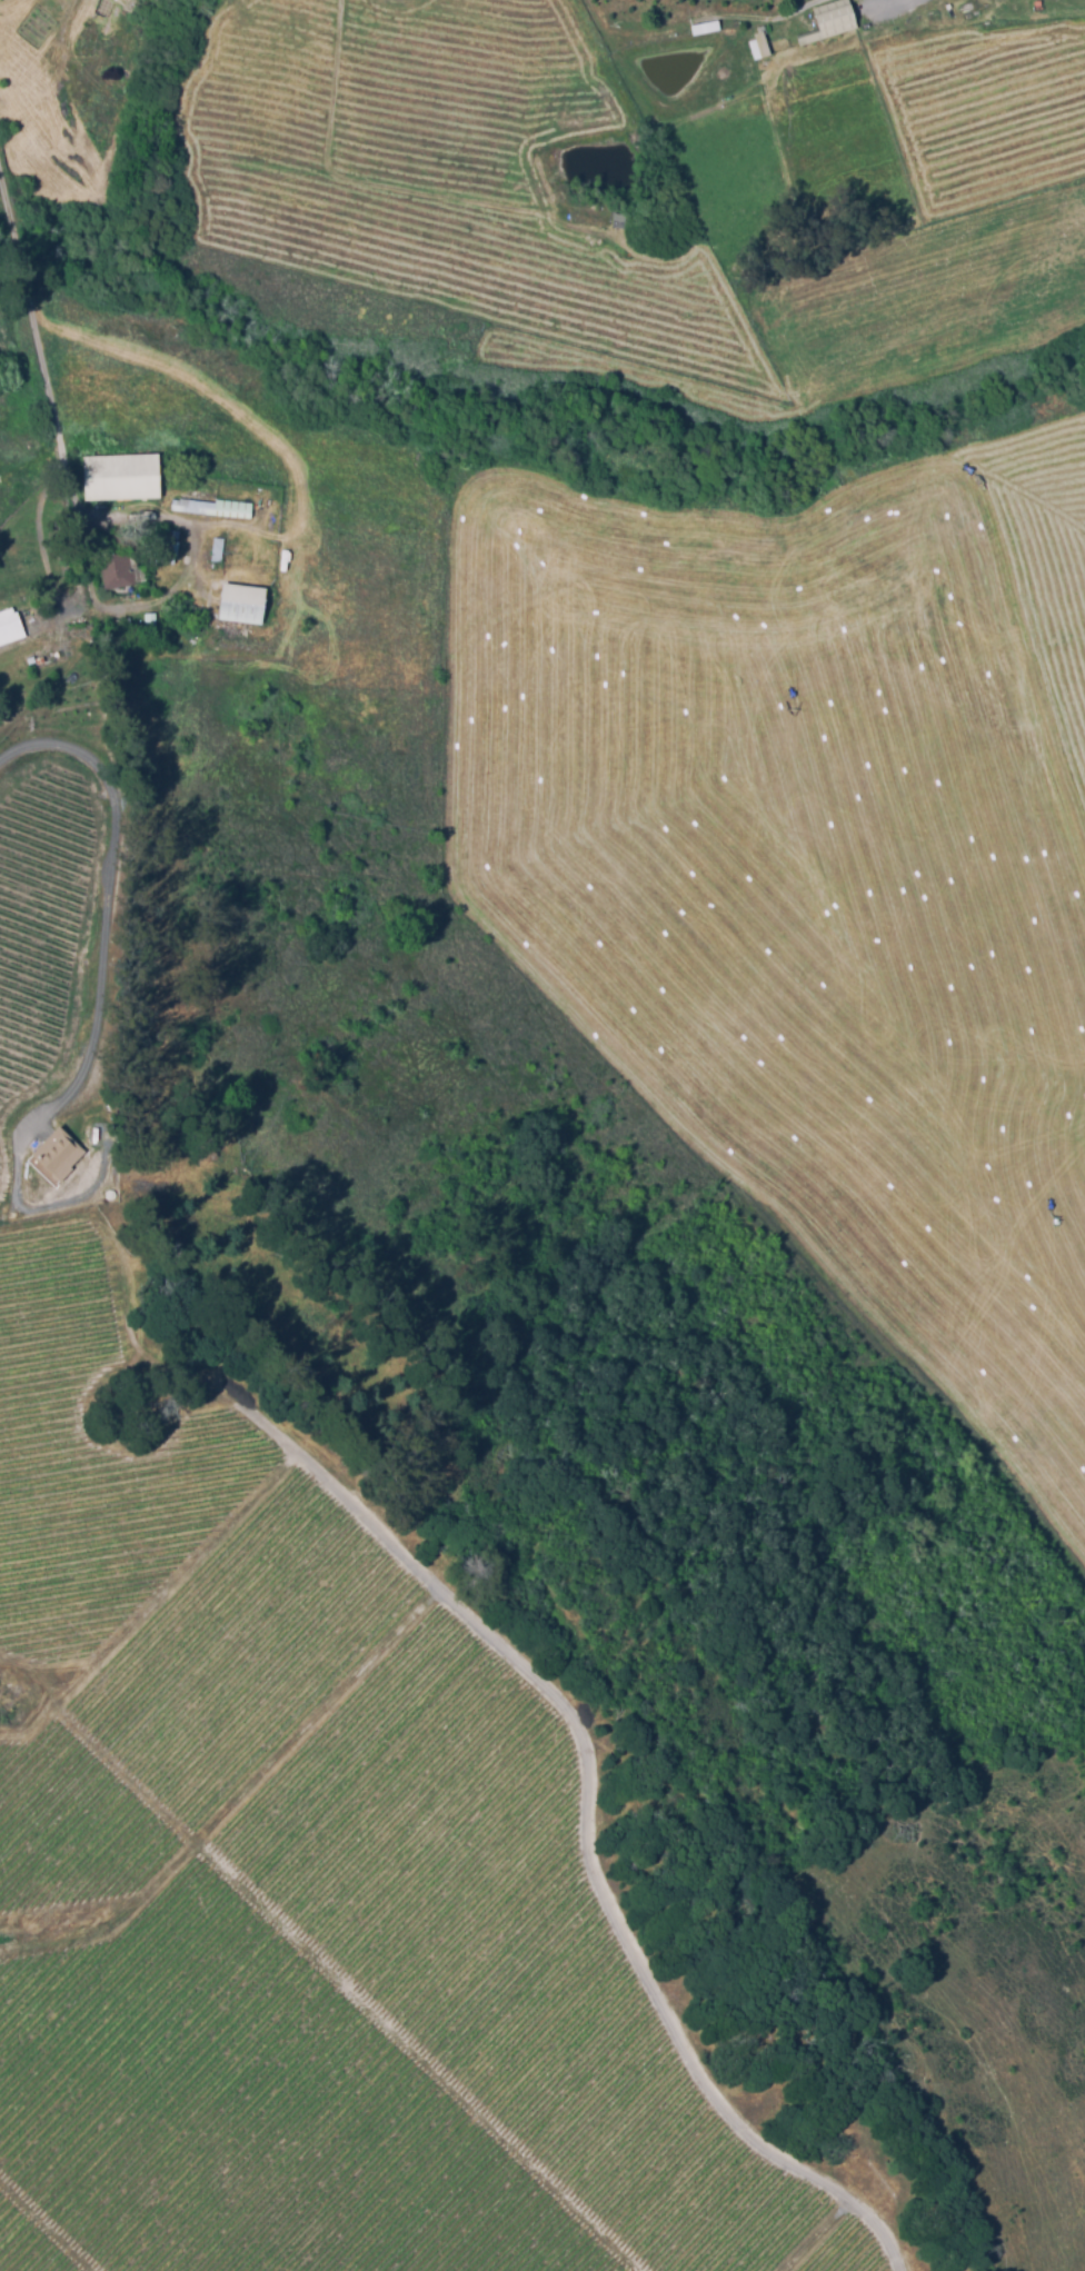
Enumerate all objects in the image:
road: (72, 16)
building: (836, 16)
building: (812, 36)
building: (763, 40)
building: (757, 46)
building: (8, 155)
road: (33, 310)
building: (122, 480)
building: (216, 506)
building: (168, 544)
building: (218, 548)
building: (122, 569)
building: (242, 602)
building: (192, 611)
building: (10, 625)
building: (31, 658)
building: (41, 658)
road: (119, 903)
crop: (40, 914)
building: (56, 1155)
crop: (2, 1163)
crop: (89, 1461)
crop: (247, 1645)
crop: (71, 1826)
crop: (506, 1945)
crop: (247, 2113)
crop: (27, 2244)
crop: (847, 2251)

